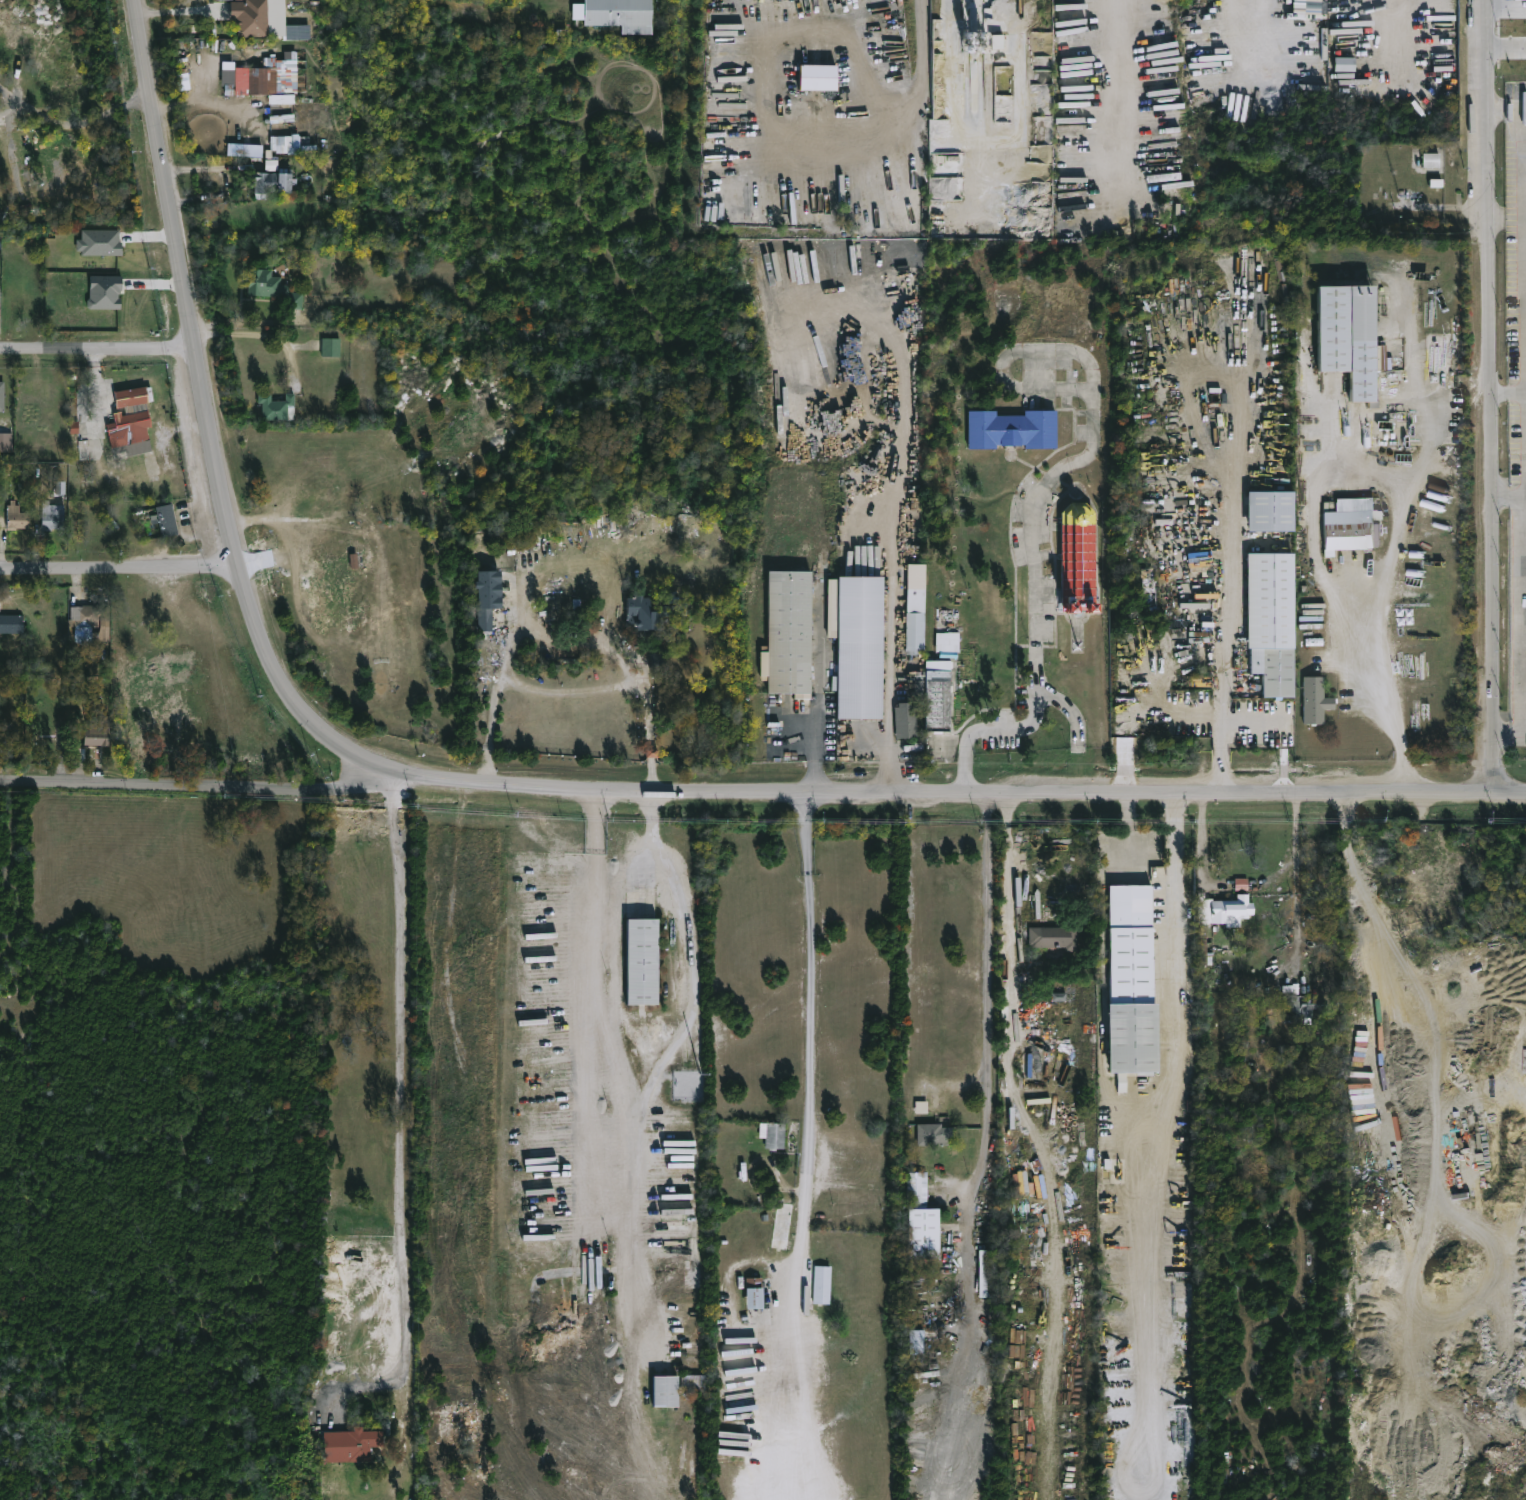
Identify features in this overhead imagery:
building: (623, 14)
building: (249, 18)
road: (1388, 30)
road: (1509, 46)
building: (1344, 64)
building: (817, 77)
building: (260, 82)
road: (950, 96)
road: (12, 98)
road: (1510, 111)
road: (10, 112)
road: (86, 128)
building: (1430, 159)
building: (271, 164)
building: (276, 181)
road: (1509, 218)
building: (99, 242)
building: (267, 283)
building: (104, 292)
building: (296, 300)
road: (255, 334)
building: (1355, 338)
building: (332, 346)
road: (94, 351)
road: (1509, 393)
building: (136, 396)
road: (1493, 396)
building: (2, 398)
building: (278, 407)
road: (202, 419)
building: (139, 420)
building: (1015, 429)
building: (6, 442)
building: (60, 487)
building: (1164, 495)
road: (1509, 496)
building: (1269, 510)
road: (1314, 510)
building: (17, 516)
building: (52, 516)
building: (1167, 517)
building: (167, 520)
building: (1346, 525)
building: (1153, 540)
building: (1082, 553)
road: (1035, 560)
road: (116, 570)
road: (1233, 576)
building: (491, 593)
road: (1377, 600)
building: (917, 607)
building: (648, 611)
building: (1269, 616)
building: (89, 618)
building: (11, 622)
building: (793, 628)
building: (949, 640)
building: (862, 644)
road: (627, 684)
road: (892, 686)
building: (940, 693)
building: (913, 697)
building: (1317, 698)
road: (1220, 728)
building: (98, 730)
road: (1510, 730)
road: (490, 737)
building: (651, 752)
road: (817, 752)
road: (187, 787)
road: (958, 795)
road: (1128, 832)
road: (592, 846)
building: (1241, 883)
building: (1227, 909)
road: (1017, 931)
building: (1053, 935)
building: (639, 962)
building: (1129, 980)
road: (1170, 982)
road: (987, 988)
building: (1308, 1005)
road: (677, 1029)
road: (403, 1073)
building: (1257, 1084)
building: (921, 1106)
building: (940, 1133)
building: (774, 1134)
road: (1434, 1136)
road: (811, 1148)
building: (924, 1218)
road: (629, 1221)
building: (785, 1224)
building: (1434, 1266)
building: (694, 1273)
building: (986, 1273)
building: (823, 1284)
building: (756, 1293)
building: (561, 1331)
building: (918, 1341)
road: (399, 1364)
building: (694, 1383)
building: (668, 1392)
building: (466, 1423)
road: (333, 1434)
building: (360, 1443)
building: (478, 1468)
building: (578, 1471)

